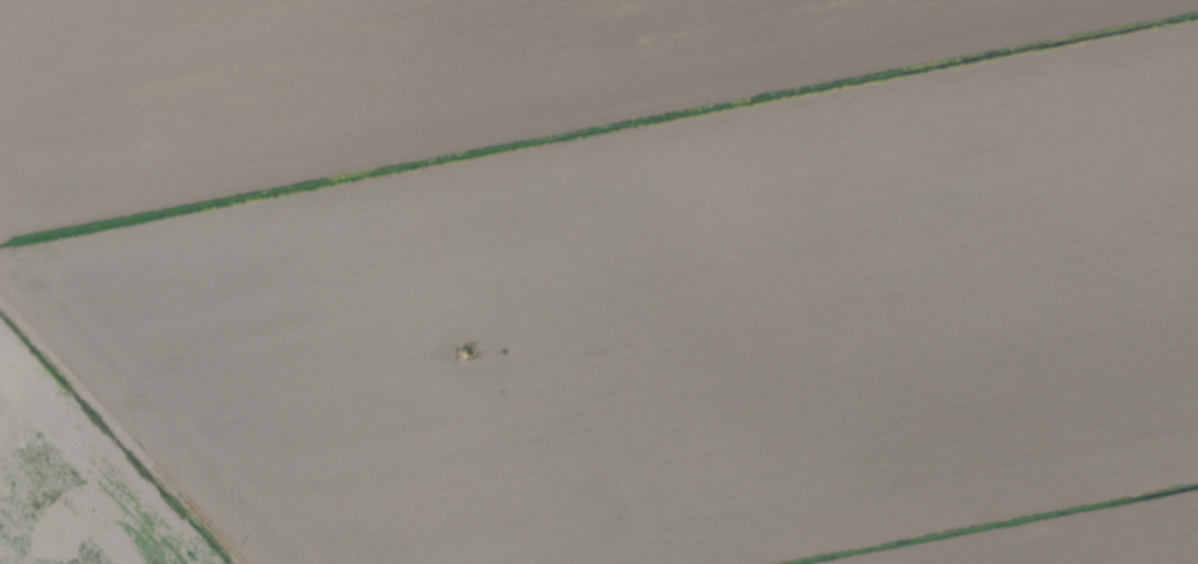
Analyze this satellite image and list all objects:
crop: (599, 282)

